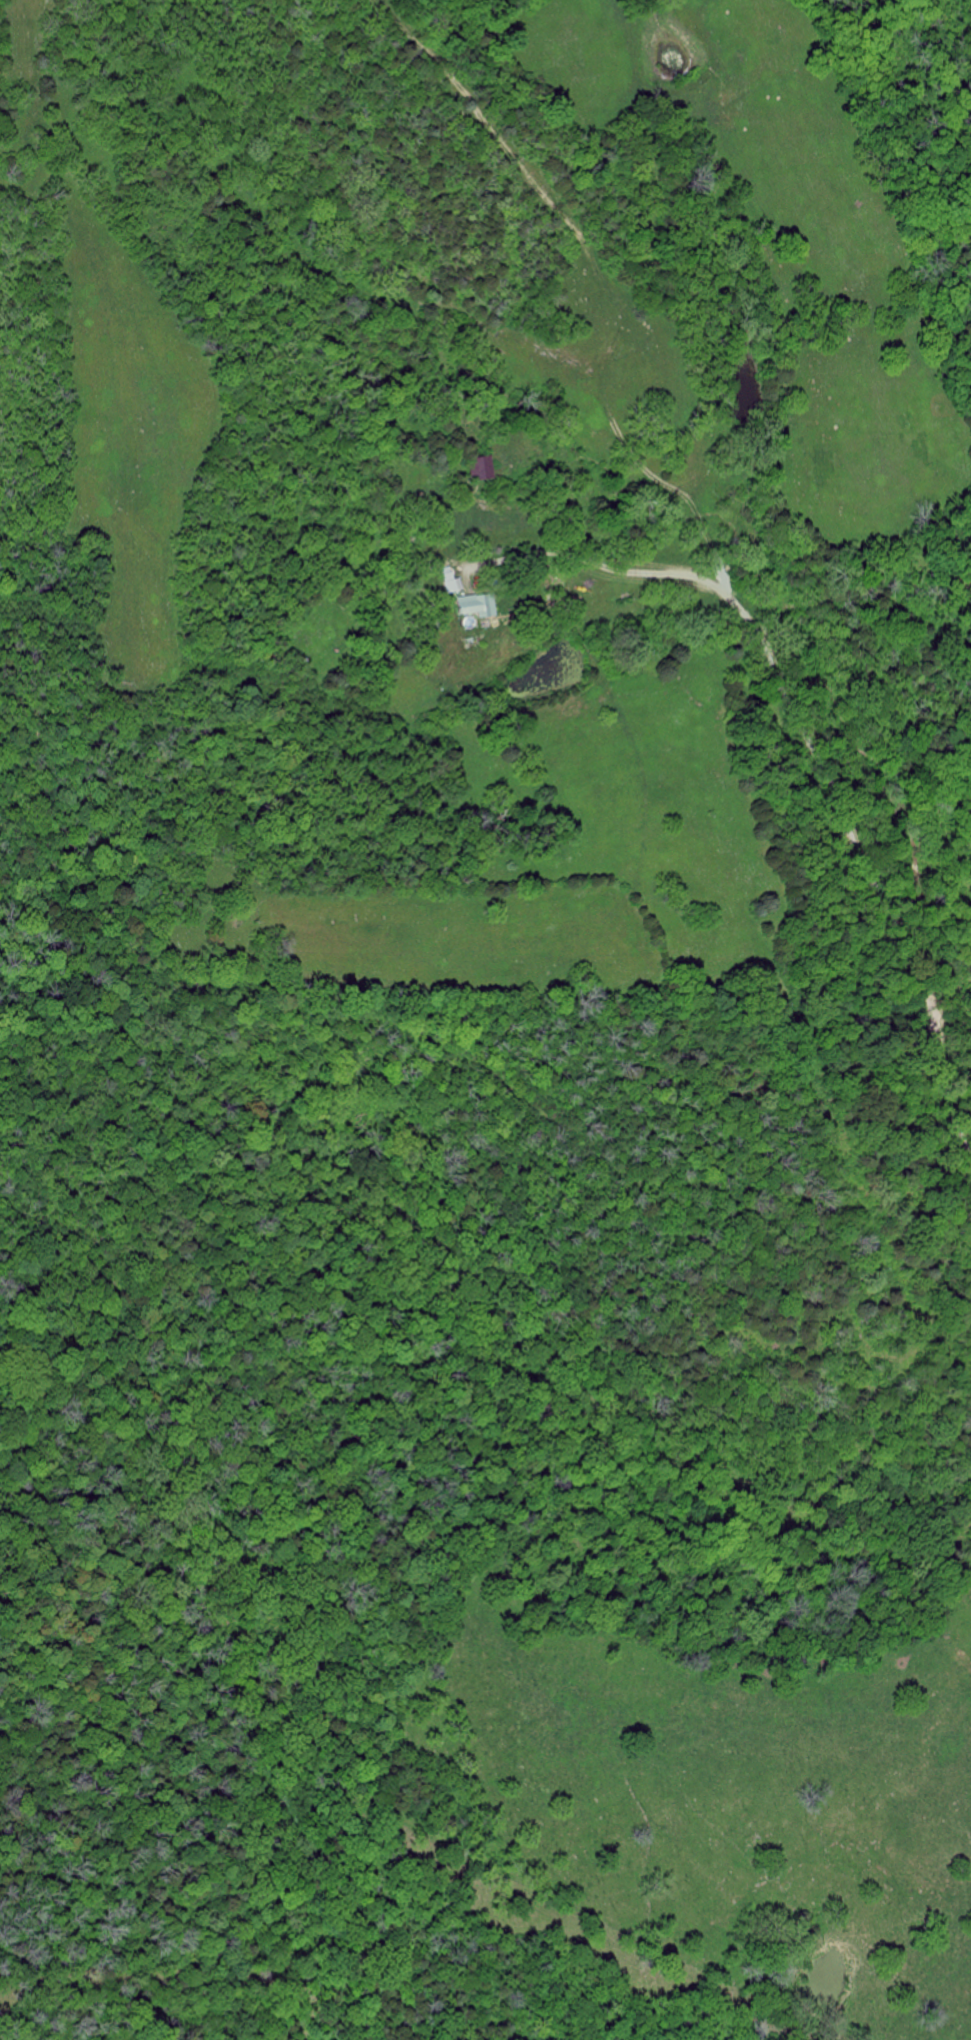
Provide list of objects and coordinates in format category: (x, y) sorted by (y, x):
road: (802, 740)

